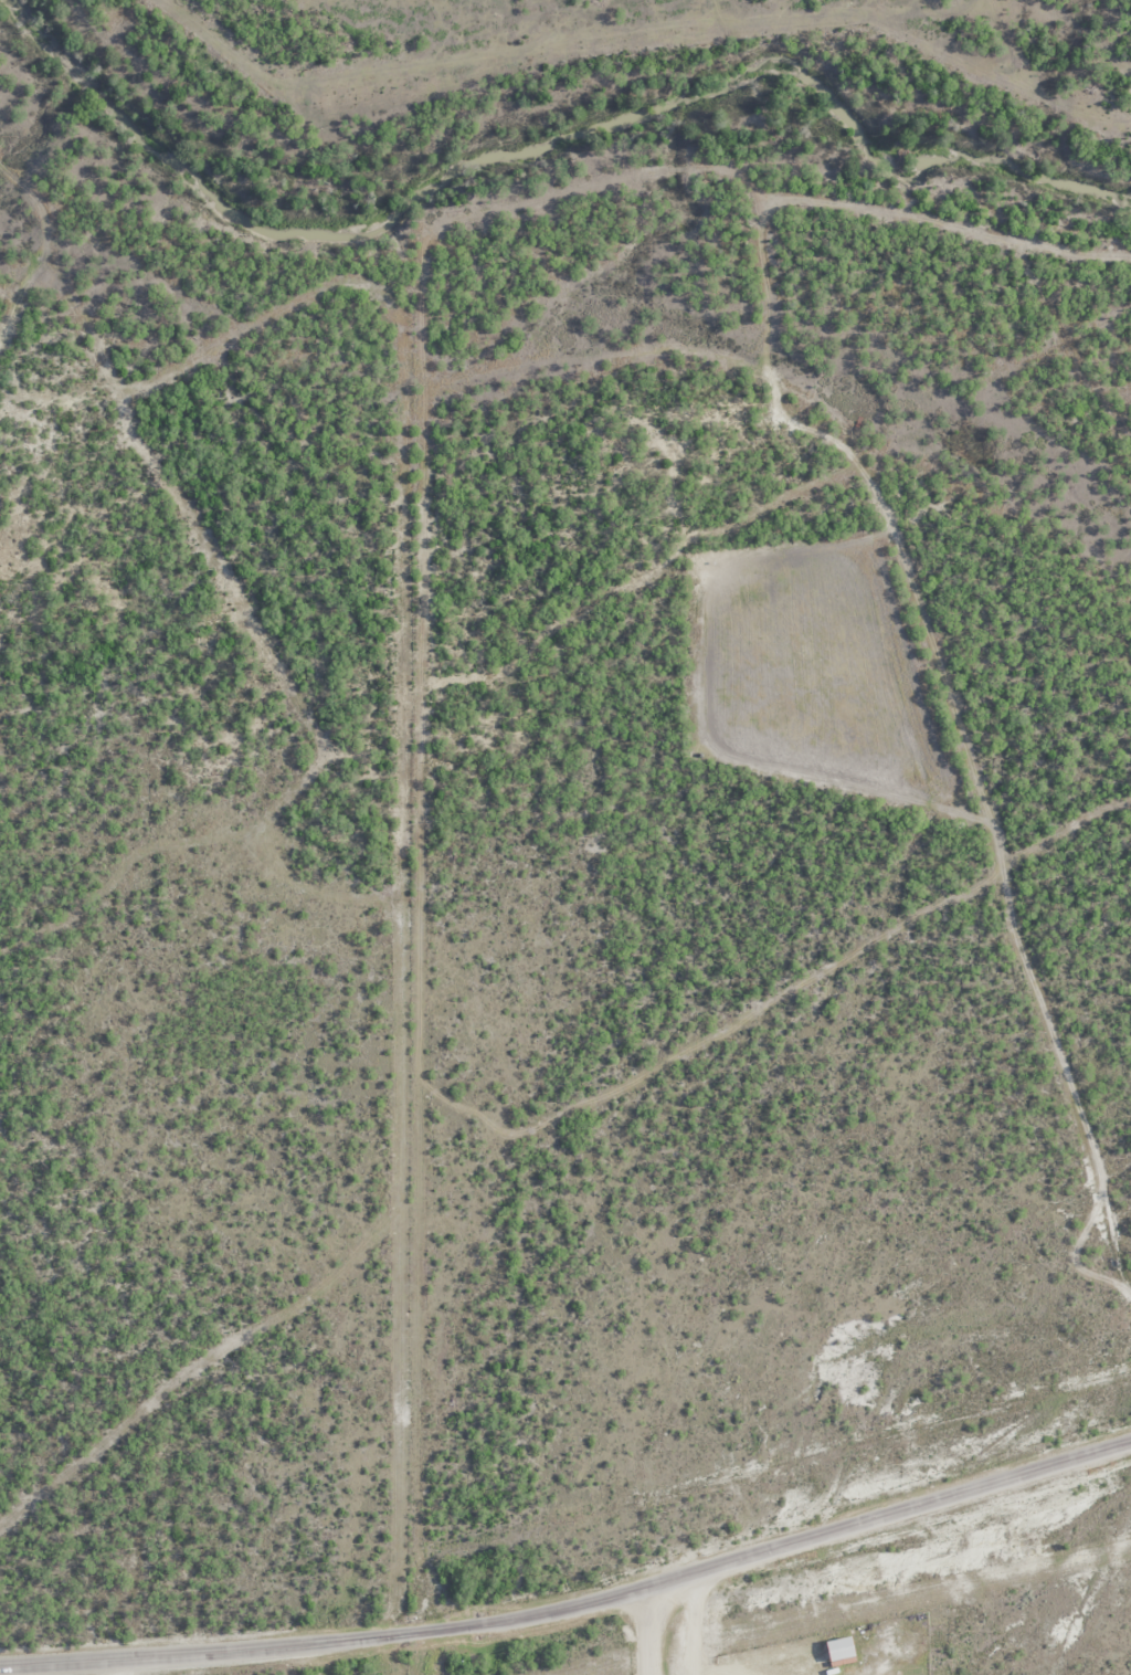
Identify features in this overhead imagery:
river: (542, 148)
road: (574, 1609)
road: (648, 1634)
building: (847, 1652)
road: (113, 1669)

